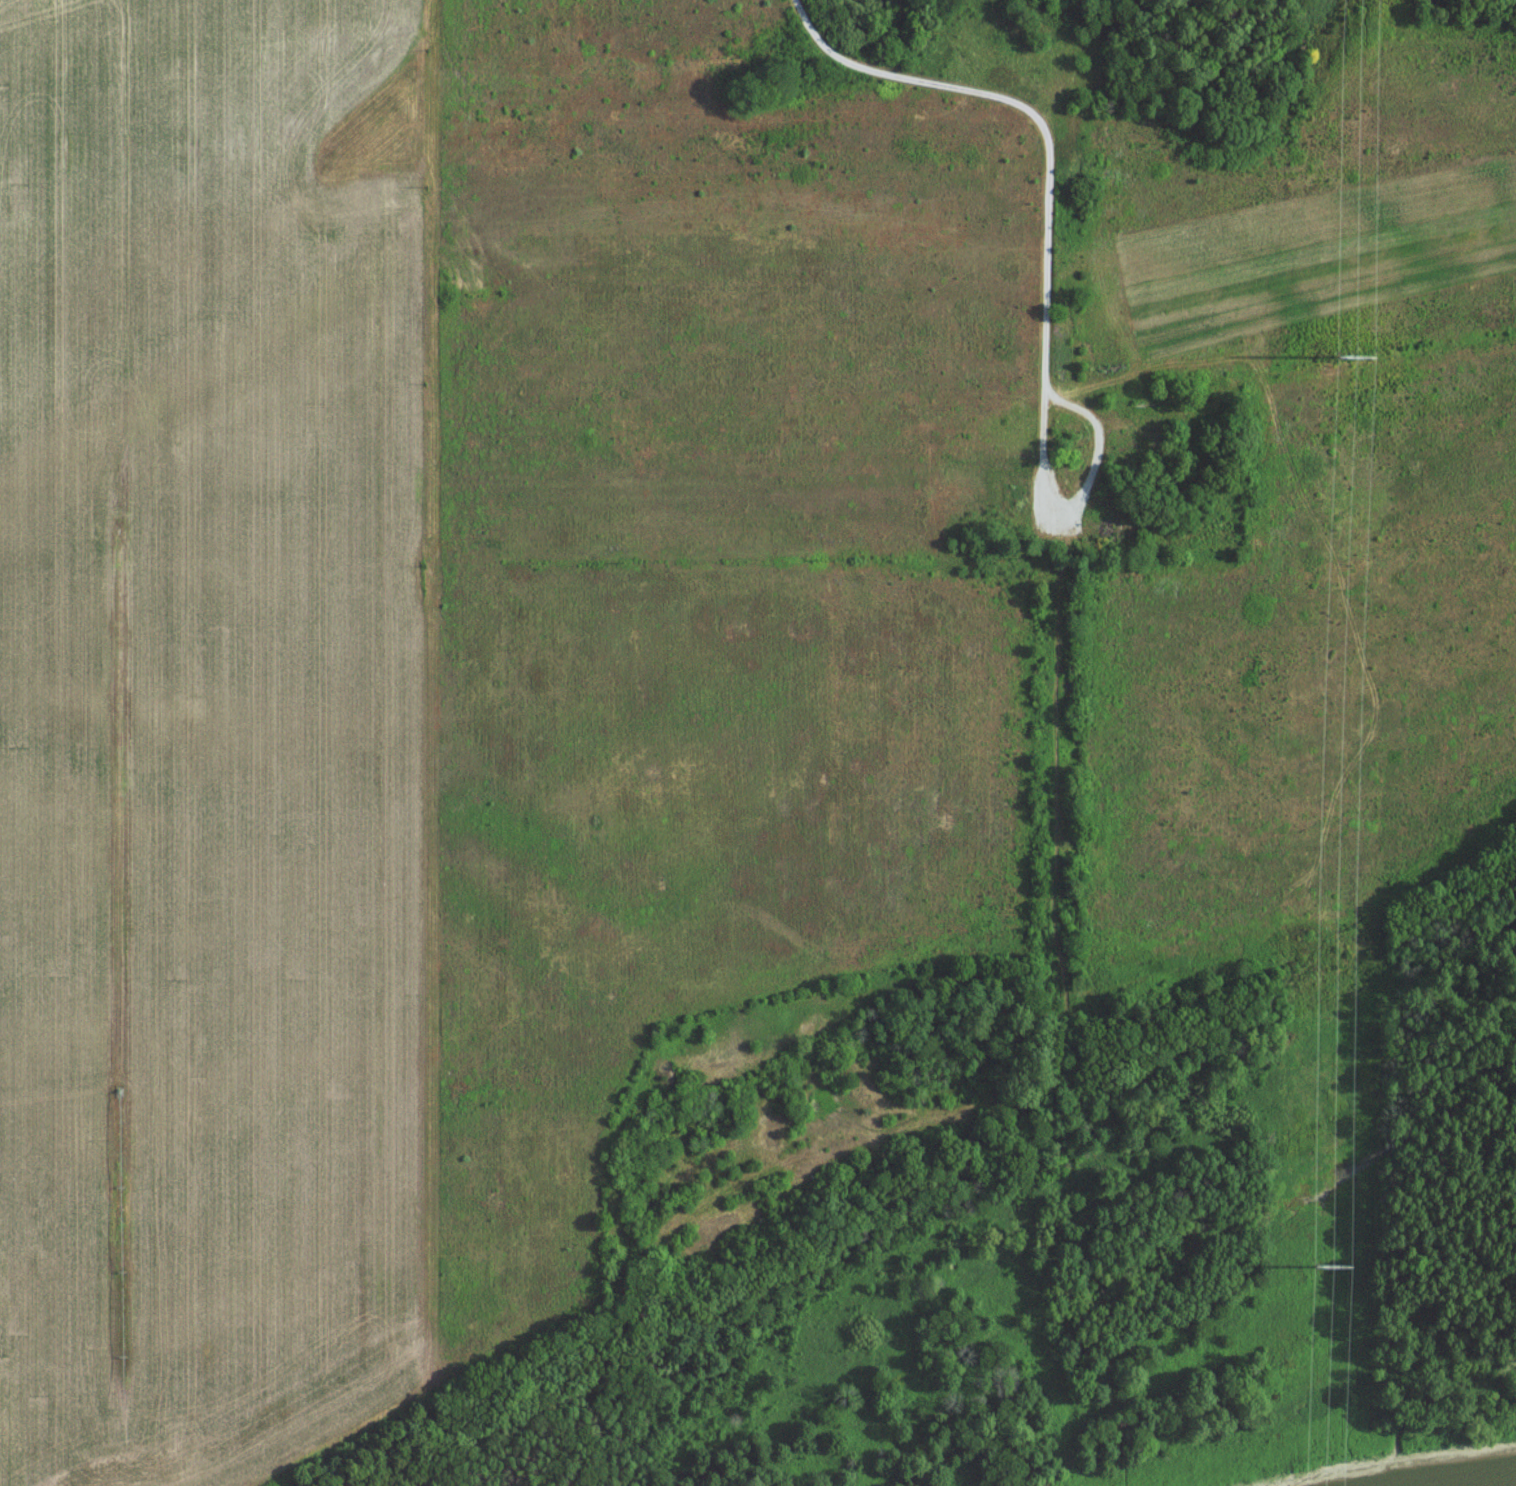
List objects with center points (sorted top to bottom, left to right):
power tower: (1351, 354)
power tower: (1327, 1267)

